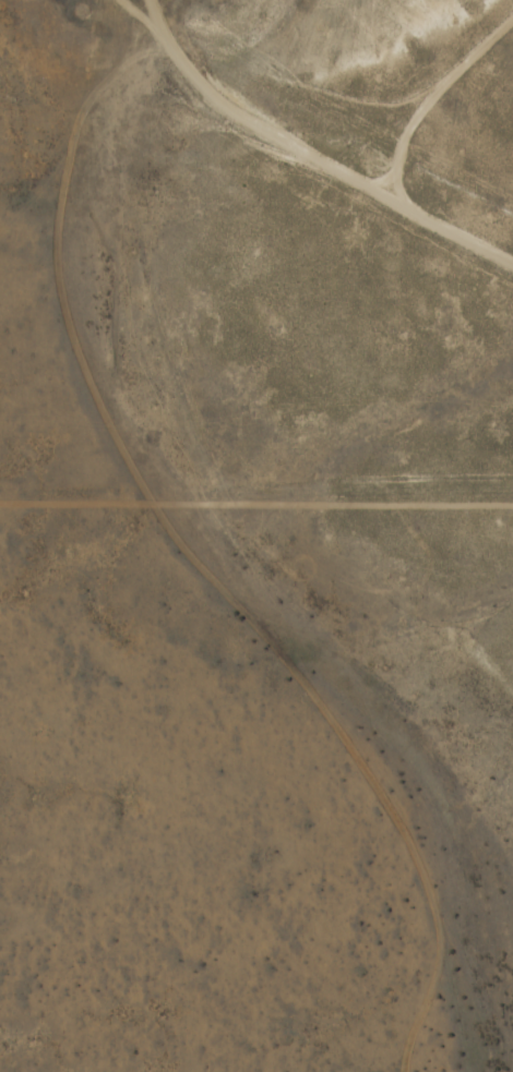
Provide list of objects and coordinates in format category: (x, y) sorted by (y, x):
road: (431, 97)
road: (392, 511)
road: (267, 530)

